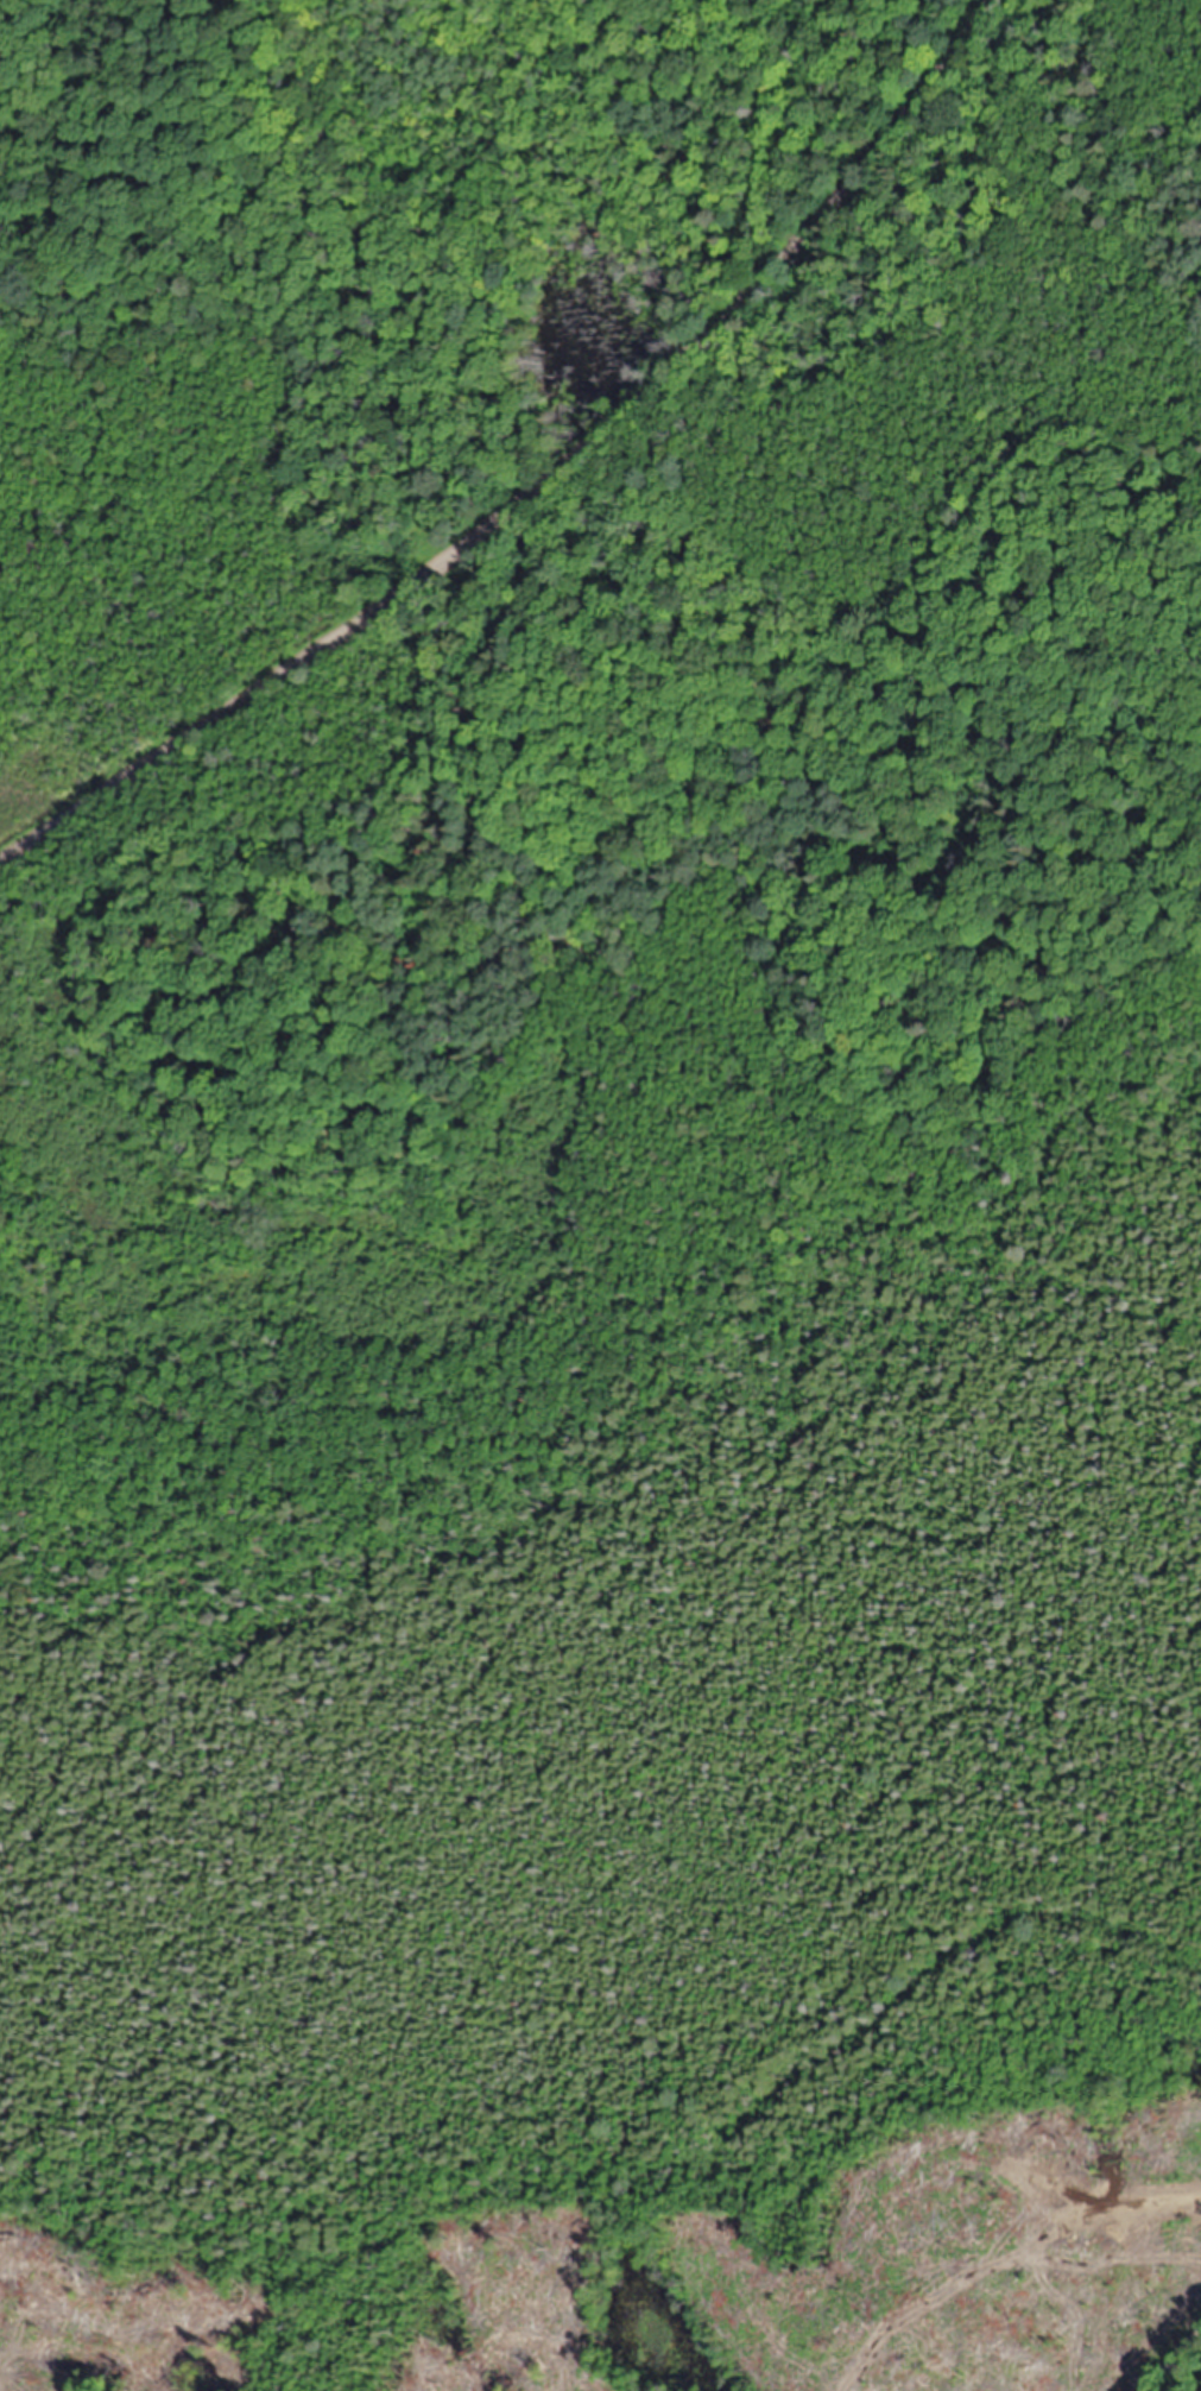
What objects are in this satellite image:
road: (544, 484)
road: (1174, 2360)

